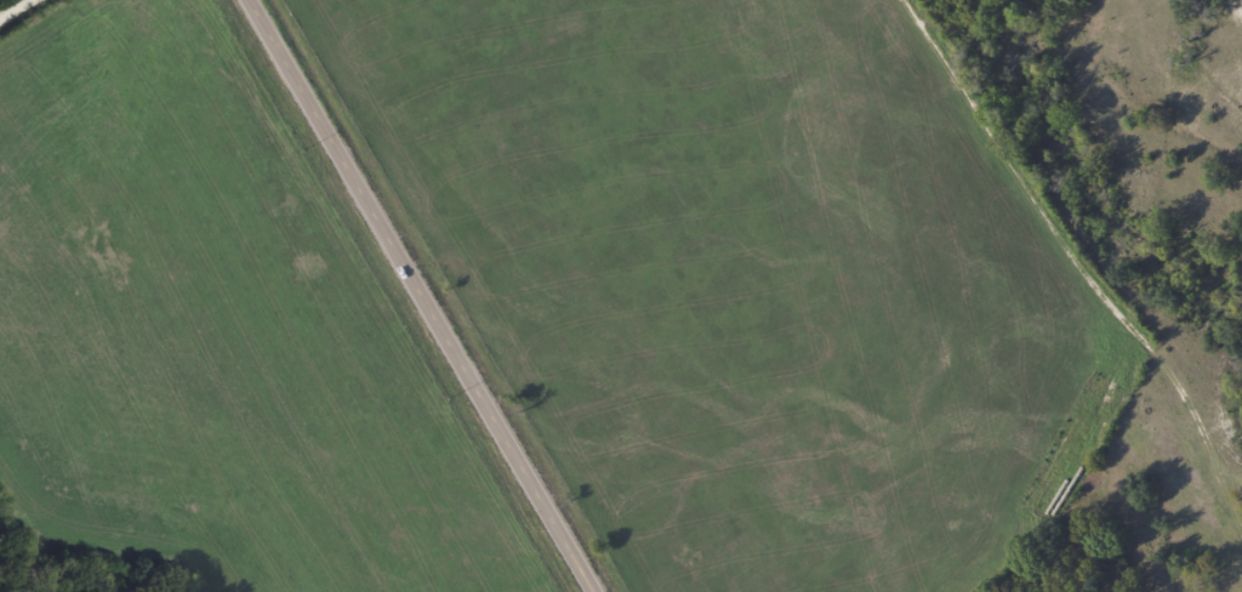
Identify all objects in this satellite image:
road: (23, 13)
road: (273, 16)
road: (443, 312)

